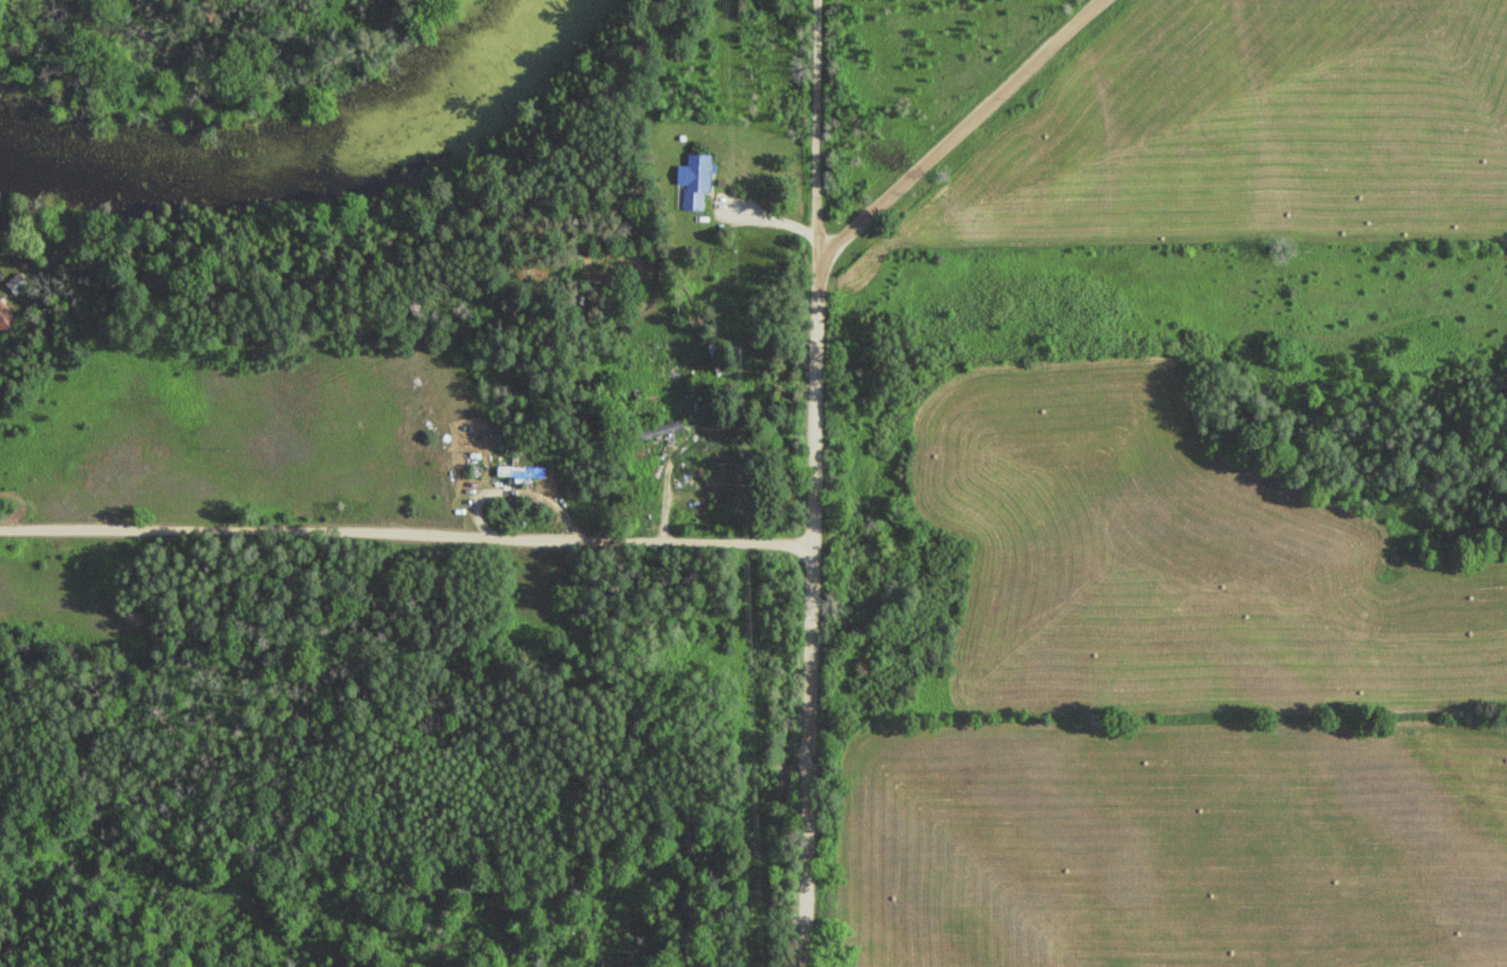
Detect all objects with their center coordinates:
road: (815, 132)
building: (698, 181)
road: (859, 227)
building: (16, 281)
building: (6, 318)
building: (716, 359)
building: (675, 393)
building: (525, 471)
building: (645, 478)
road: (405, 536)
road: (813, 755)

